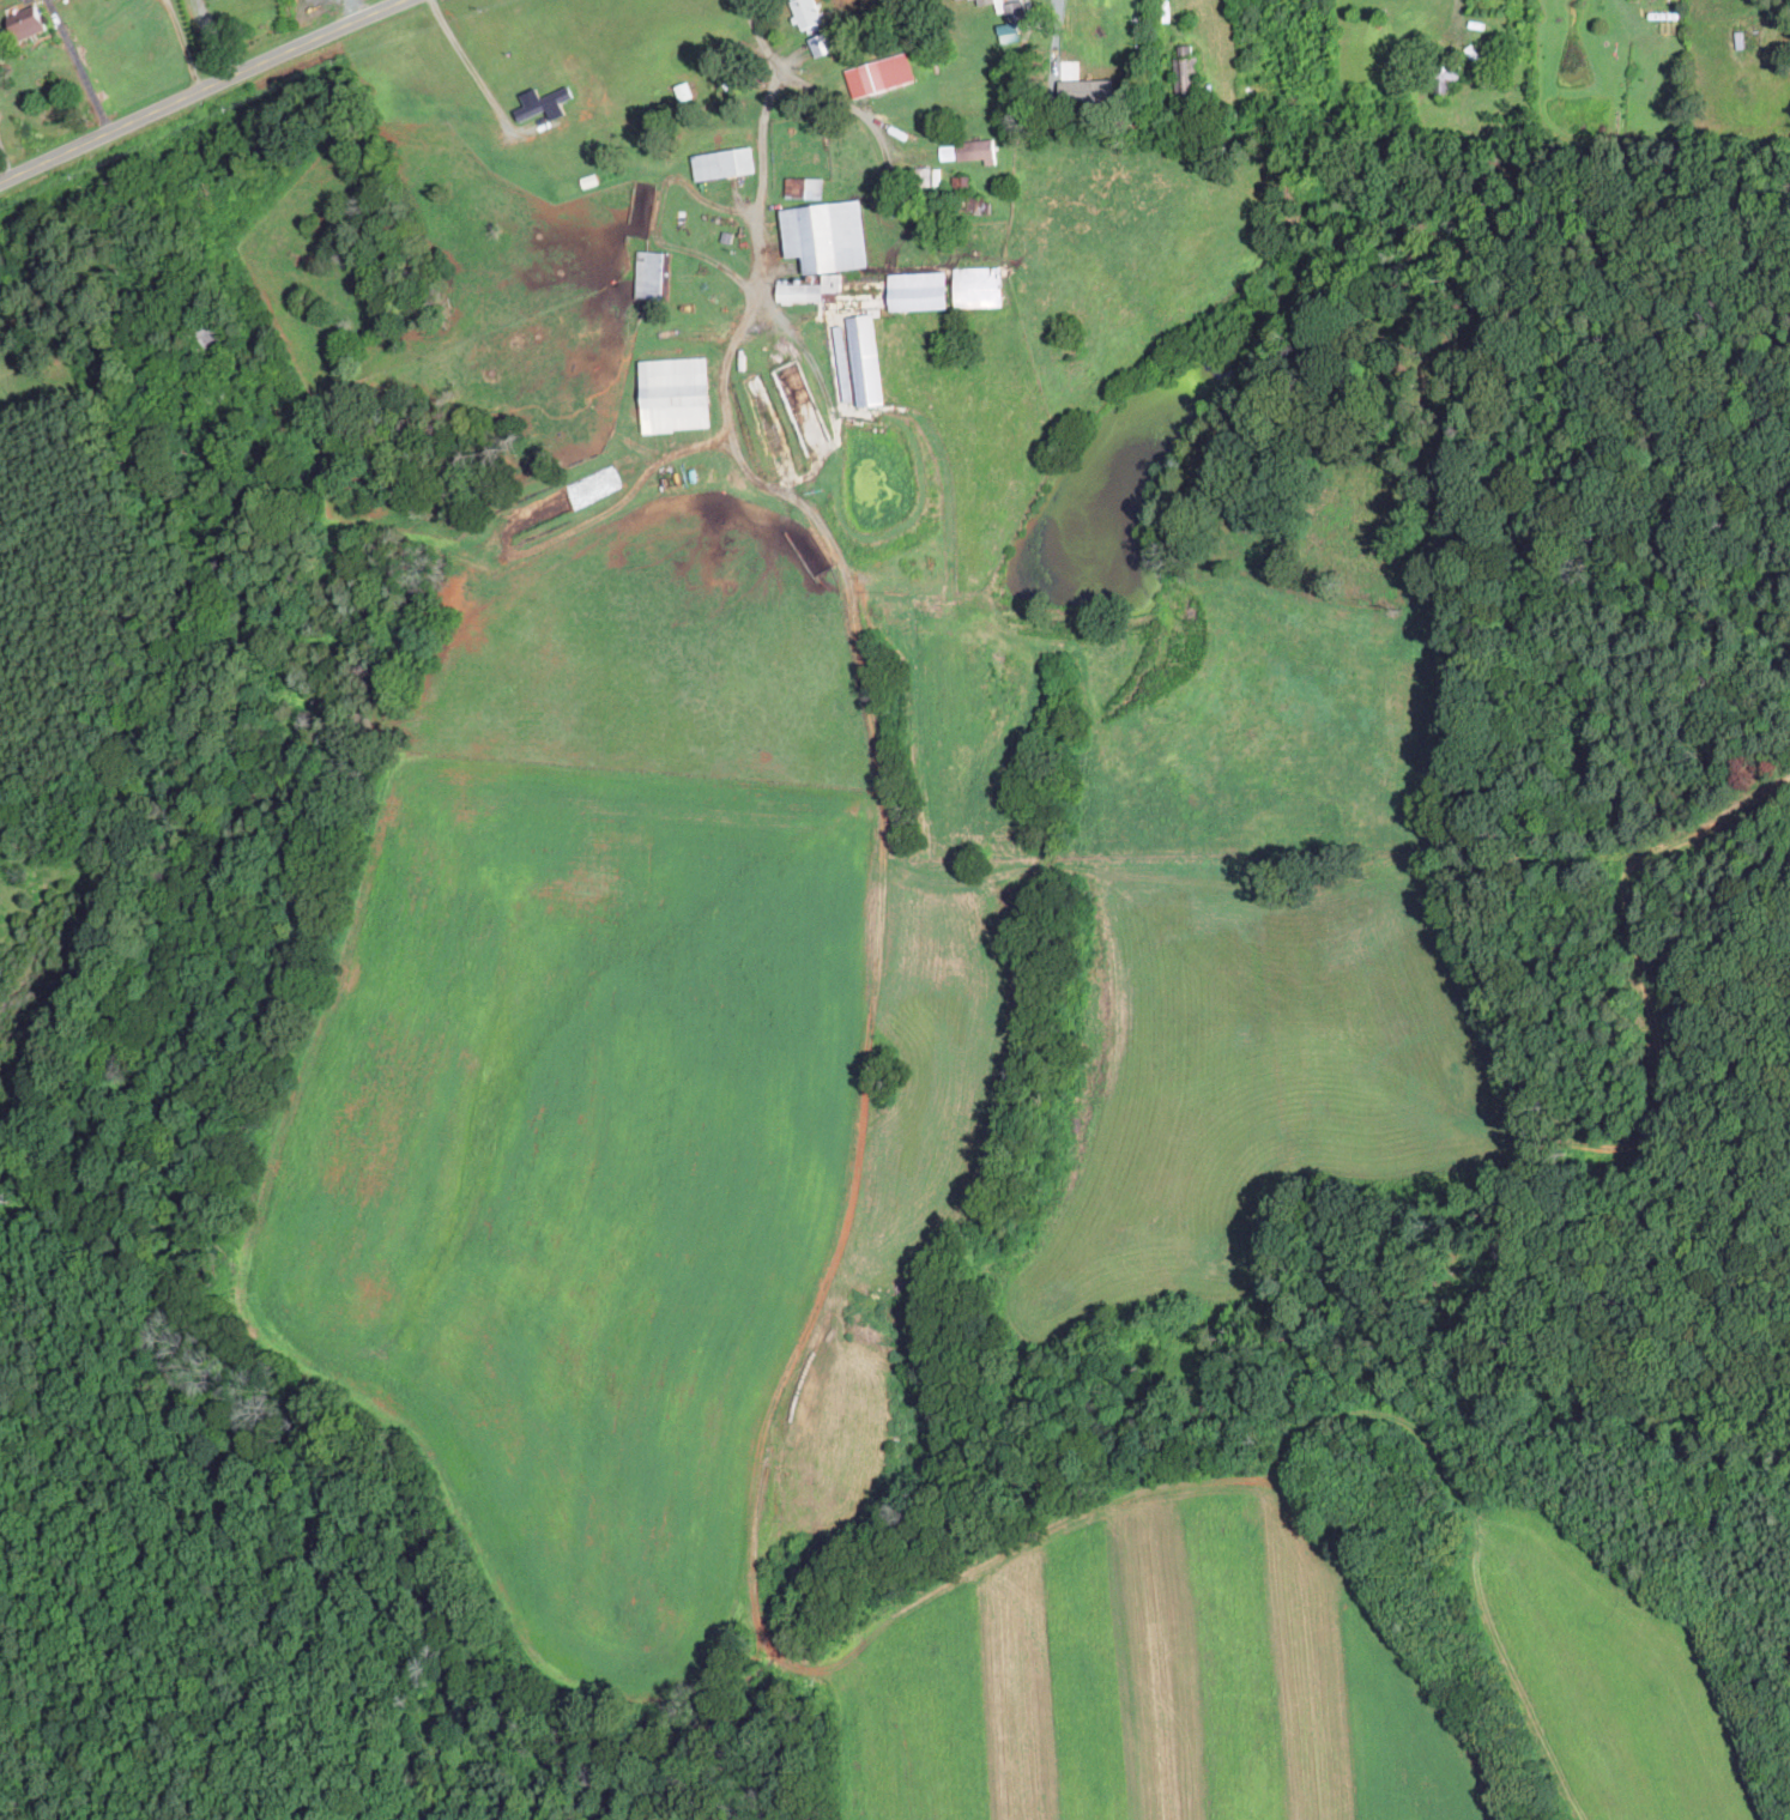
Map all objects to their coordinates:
road: (350, 11)
building: (808, 13)
building: (31, 22)
building: (1012, 22)
building: (822, 42)
road: (186, 46)
road: (472, 65)
building: (881, 73)
road: (84, 74)
road: (202, 91)
road: (841, 101)
building: (540, 104)
building: (976, 150)
building: (947, 151)
building: (725, 162)
building: (804, 186)
road: (761, 191)
building: (823, 246)
building: (649, 273)
building: (919, 290)
building: (859, 359)
building: (676, 393)

